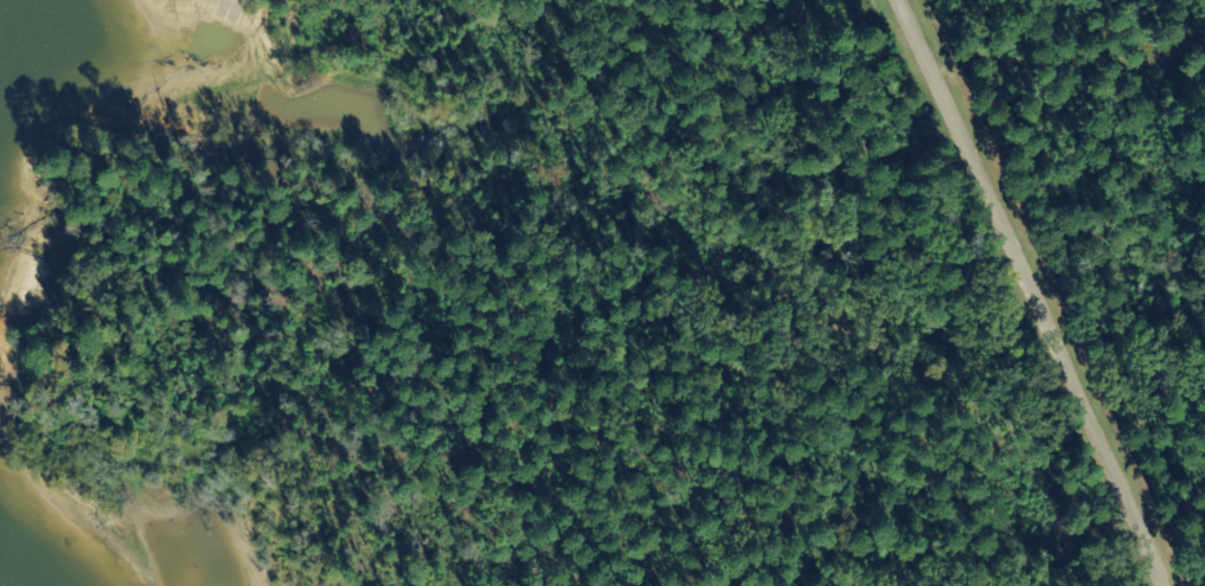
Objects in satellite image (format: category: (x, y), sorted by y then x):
road: (1032, 291)

